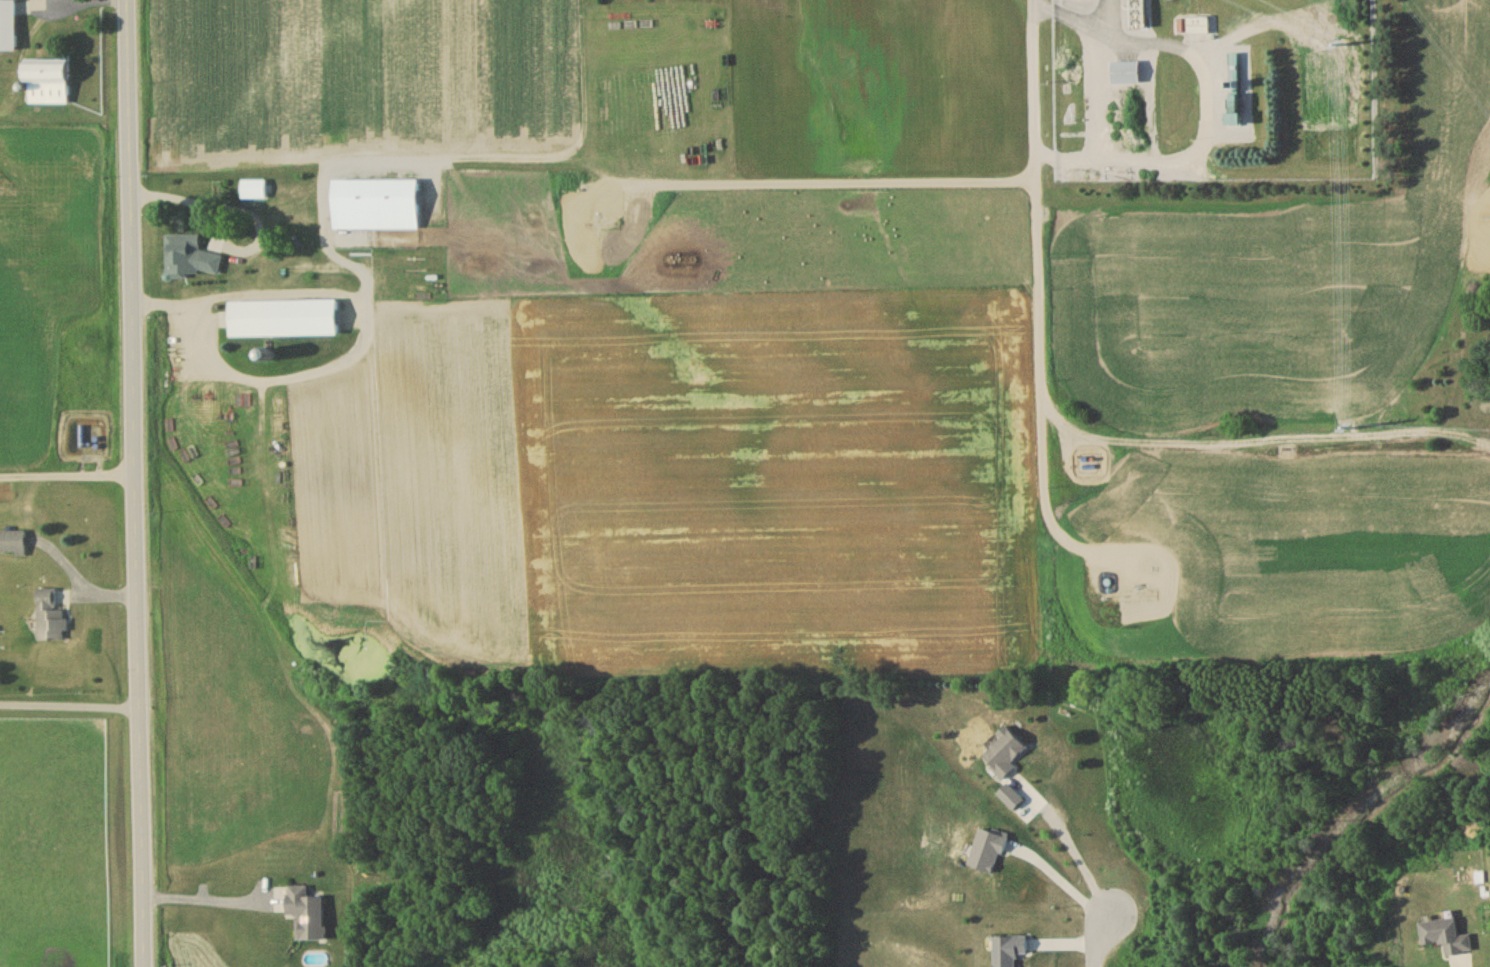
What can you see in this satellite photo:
building: (1138, 15)
road: (41, 25)
building: (7, 28)
building: (1199, 28)
power tower: (1345, 44)
building: (1125, 76)
building: (46, 85)
building: (1234, 92)
road: (811, 189)
building: (254, 192)
building: (375, 208)
road: (249, 211)
building: (191, 258)
building: (282, 322)
road: (1062, 426)
power tower: (1353, 429)
road: (67, 477)
road: (135, 483)
road: (1048, 516)
building: (12, 545)
building: (50, 619)
road: (69, 707)
building: (1004, 755)
road: (1074, 846)
road: (1063, 879)
road: (207, 902)
building: (305, 916)
building: (1446, 939)
road: (1098, 941)
road: (1461, 966)

